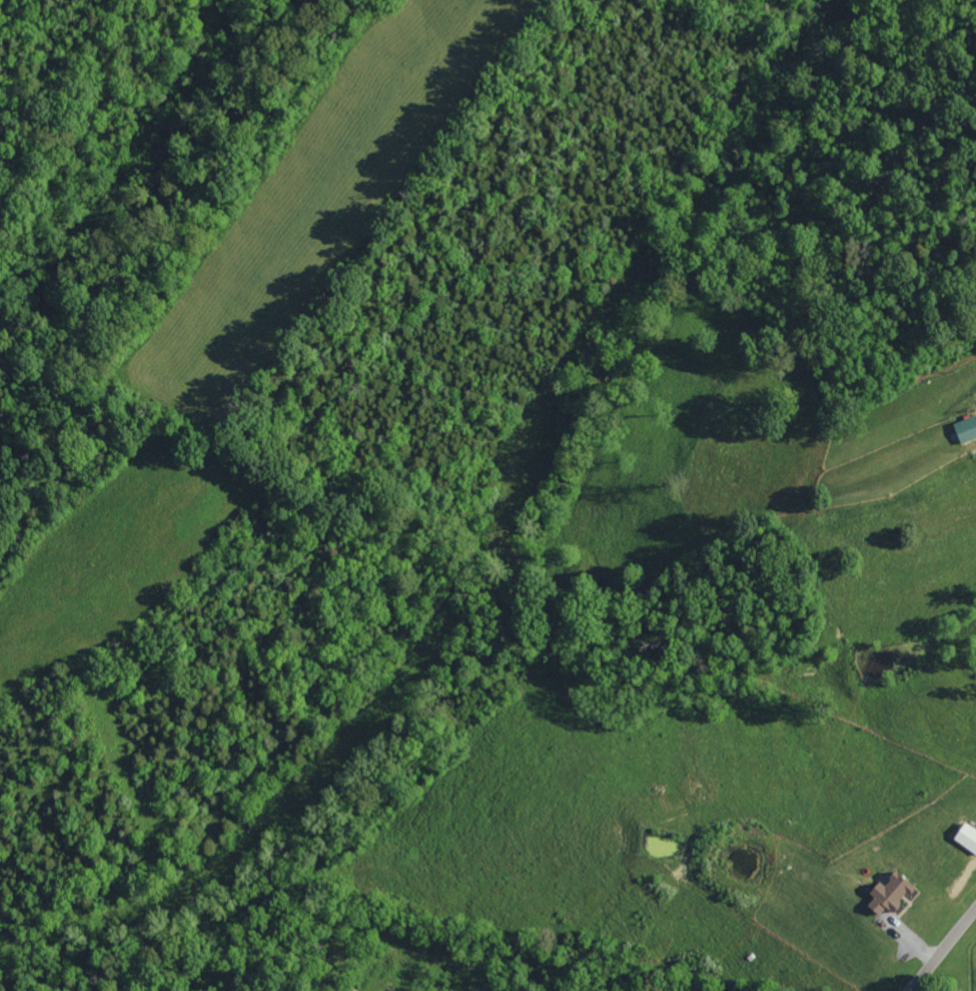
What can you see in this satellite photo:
building: (965, 429)
building: (966, 838)
building: (886, 894)
road: (935, 941)

